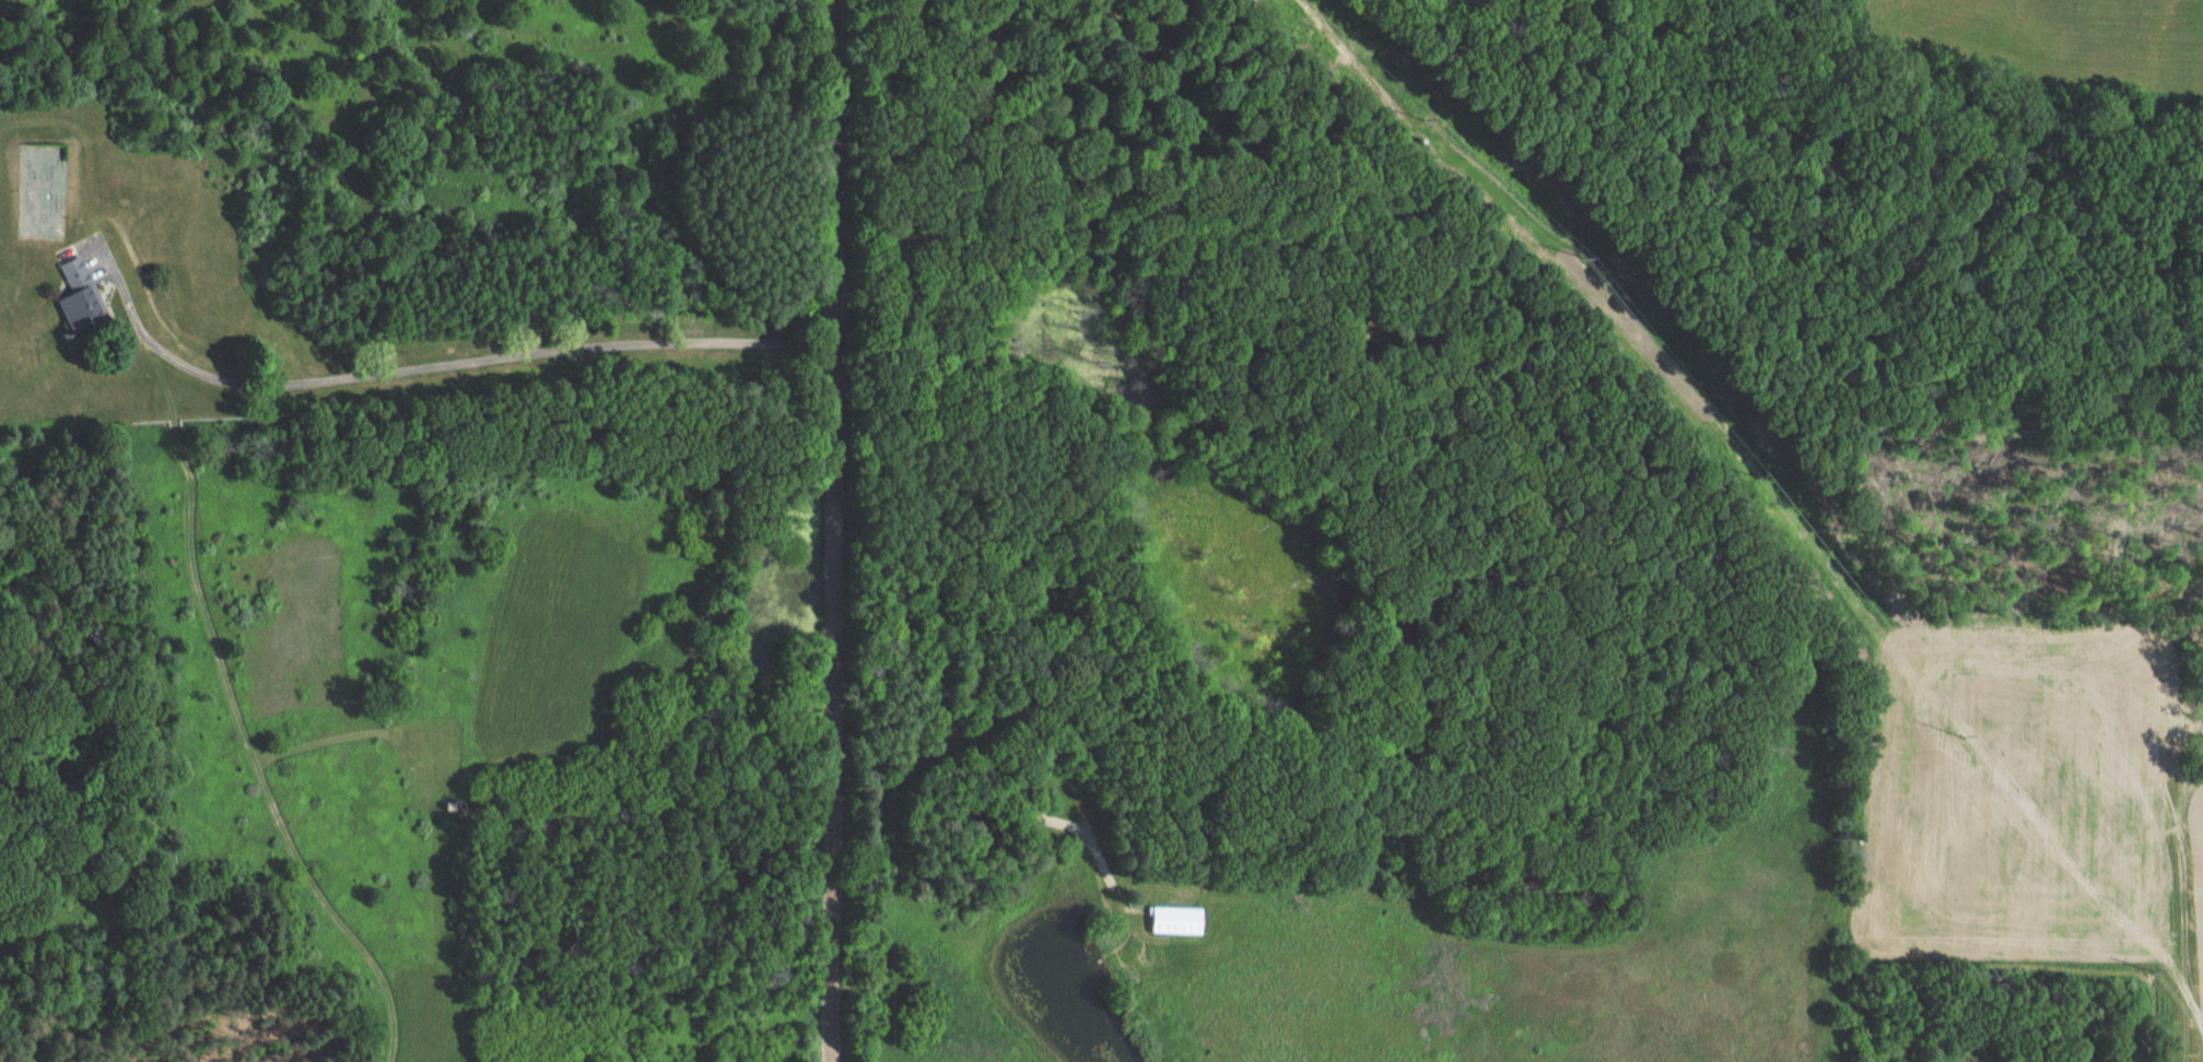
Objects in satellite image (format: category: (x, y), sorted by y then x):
building: (83, 297)
road: (831, 530)
building: (1177, 920)

